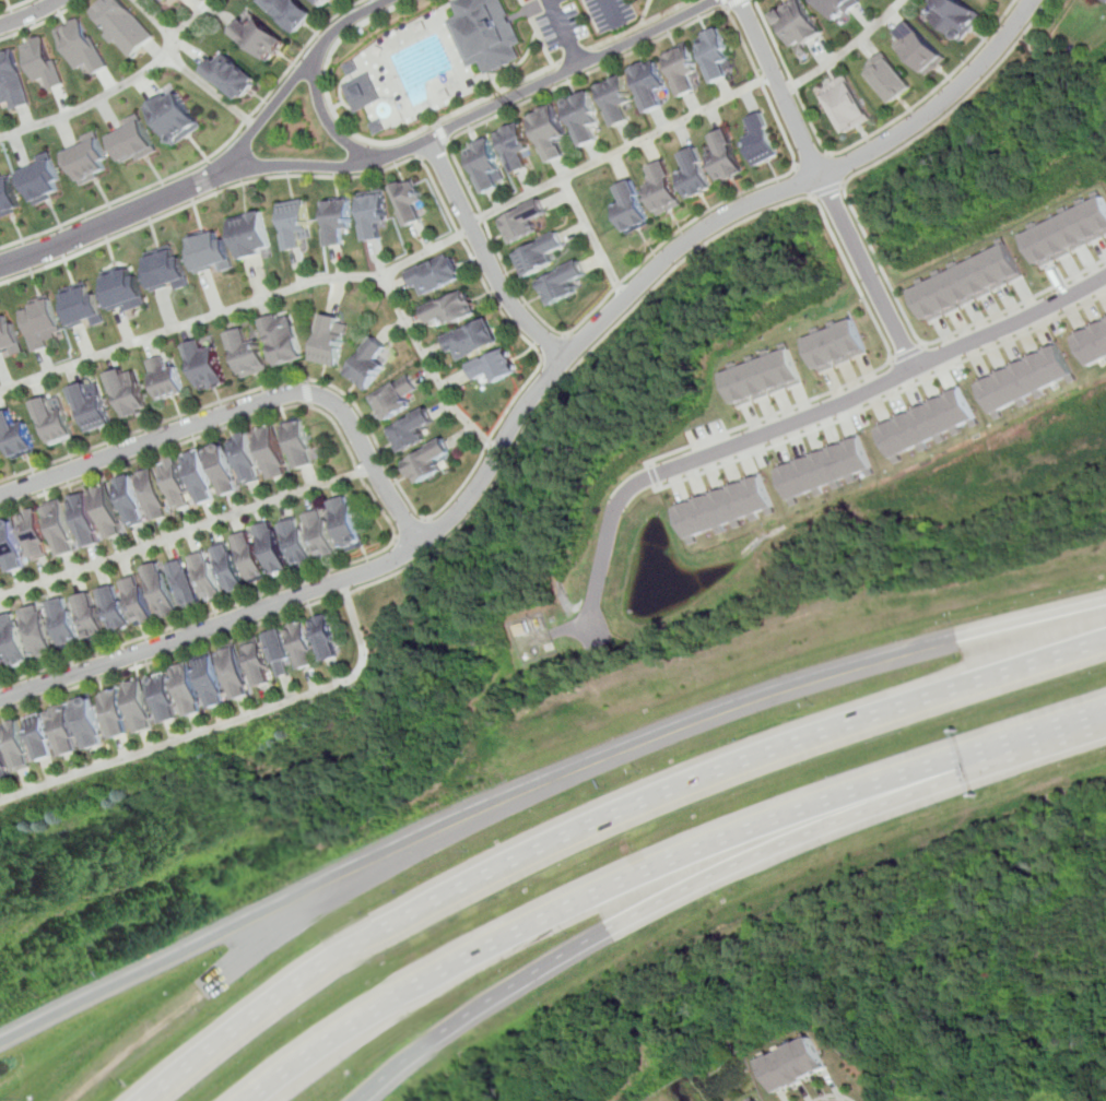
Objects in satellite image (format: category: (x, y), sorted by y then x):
building: (0, 0)
building: (158, 0)
building: (173, 1)
building: (321, 3)
road: (721, 3)
road: (730, 3)
road: (12, 5)
building: (847, 9)
road: (637, 12)
building: (287, 13)
road: (605, 13)
road: (27, 14)
parking lot: (573, 19)
road: (695, 19)
building: (956, 19)
road: (152, 20)
road: (187, 20)
road: (39, 21)
road: (635, 24)
building: (119, 25)
building: (800, 25)
road: (560, 32)
building: (486, 33)
road: (537, 33)
building: (254, 38)
building: (78, 46)
road: (166, 48)
building: (922, 48)
road: (849, 51)
building: (711, 52)
road: (572, 55)
building: (40, 61)
building: (350, 68)
building: (679, 68)
building: (226, 76)
building: (891, 79)
building: (647, 82)
building: (12, 84)
road: (286, 84)
road: (207, 92)
building: (361, 92)
road: (497, 93)
road: (323, 96)
building: (613, 99)
road: (85, 106)
building: (851, 106)
building: (584, 116)
building: (170, 118)
road: (326, 122)
road: (461, 123)
building: (552, 131)
road: (443, 135)
building: (765, 137)
building: (131, 140)
road: (864, 140)
building: (518, 146)
road: (436, 151)
building: (727, 155)
road: (204, 156)
building: (87, 158)
road: (815, 161)
building: (490, 165)
road: (839, 168)
building: (695, 170)
building: (44, 179)
road: (808, 180)
road: (828, 183)
road: (832, 189)
building: (664, 190)
building: (9, 197)
building: (408, 199)
building: (633, 209)
building: (370, 214)
building: (336, 220)
building: (525, 221)
building: (293, 223)
road: (99, 226)
road: (866, 230)
building: (1069, 232)
building: (248, 235)
road: (590, 239)
building: (208, 251)
building: (542, 252)
road: (486, 257)
road: (399, 265)
building: (166, 270)
building: (437, 273)
building: (564, 281)
building: (970, 281)
building: (125, 289)
building: (84, 306)
building: (449, 309)
building: (40, 320)
building: (8, 336)
building: (471, 339)
building: (280, 340)
building: (325, 341)
building: (1092, 342)
road: (926, 343)
building: (839, 344)
road: (552, 348)
building: (246, 353)
road: (909, 354)
building: (208, 364)
building: (363, 364)
building: (494, 366)
road: (427, 371)
road: (533, 371)
building: (765, 377)
building: (168, 378)
building: (1023, 378)
road: (858, 380)
building: (126, 392)
road: (302, 392)
road: (536, 392)
building: (387, 399)
road: (885, 400)
building: (90, 409)
road: (244, 410)
building: (50, 421)
road: (796, 422)
building: (927, 422)
building: (407, 429)
building: (13, 436)
building: (297, 441)
building: (273, 452)
building: (246, 458)
building: (424, 463)
building: (825, 467)
building: (224, 470)
road: (657, 475)
building: (200, 478)
building: (177, 484)
building: (151, 495)
building: (127, 502)
building: (726, 506)
road: (379, 510)
building: (104, 512)
building: (80, 520)
building: (348, 523)
road: (459, 526)
building: (56, 528)
road: (409, 529)
road: (184, 532)
building: (31, 534)
building: (323, 535)
building: (301, 543)
building: (9, 548)
building: (275, 549)
building: (252, 558)
building: (230, 569)
building: (205, 577)
building: (180, 584)
building: (157, 591)
building: (136, 601)
building: (111, 608)
building: (87, 617)
road: (1031, 618)
building: (63, 624)
road: (555, 631)
building: (39, 632)
building: (327, 636)
building: (15, 640)
building: (304, 643)
building: (279, 650)
building: (257, 661)
building: (1, 666)
building: (234, 672)
building: (211, 680)
building: (187, 689)
building: (163, 697)
building: (140, 705)
building: (116, 712)
road: (692, 718)
building: (93, 721)
road: (227, 724)
building: (68, 730)
building: (44, 738)
road: (1031, 738)
building: (17, 747)
building: (4, 768)
road: (600, 816)
road: (778, 841)
road: (586, 895)
road: (220, 932)
road: (478, 1008)
building: (799, 1064)
road: (835, 1097)

